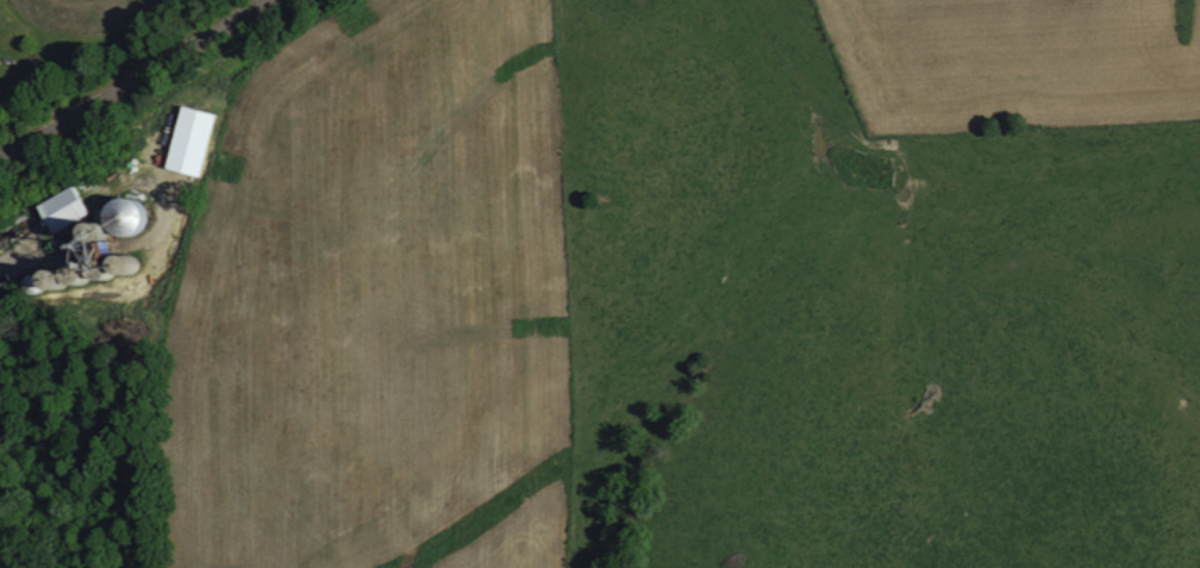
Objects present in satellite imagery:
road: (130, 77)
building: (189, 138)
building: (62, 207)
building: (98, 241)

